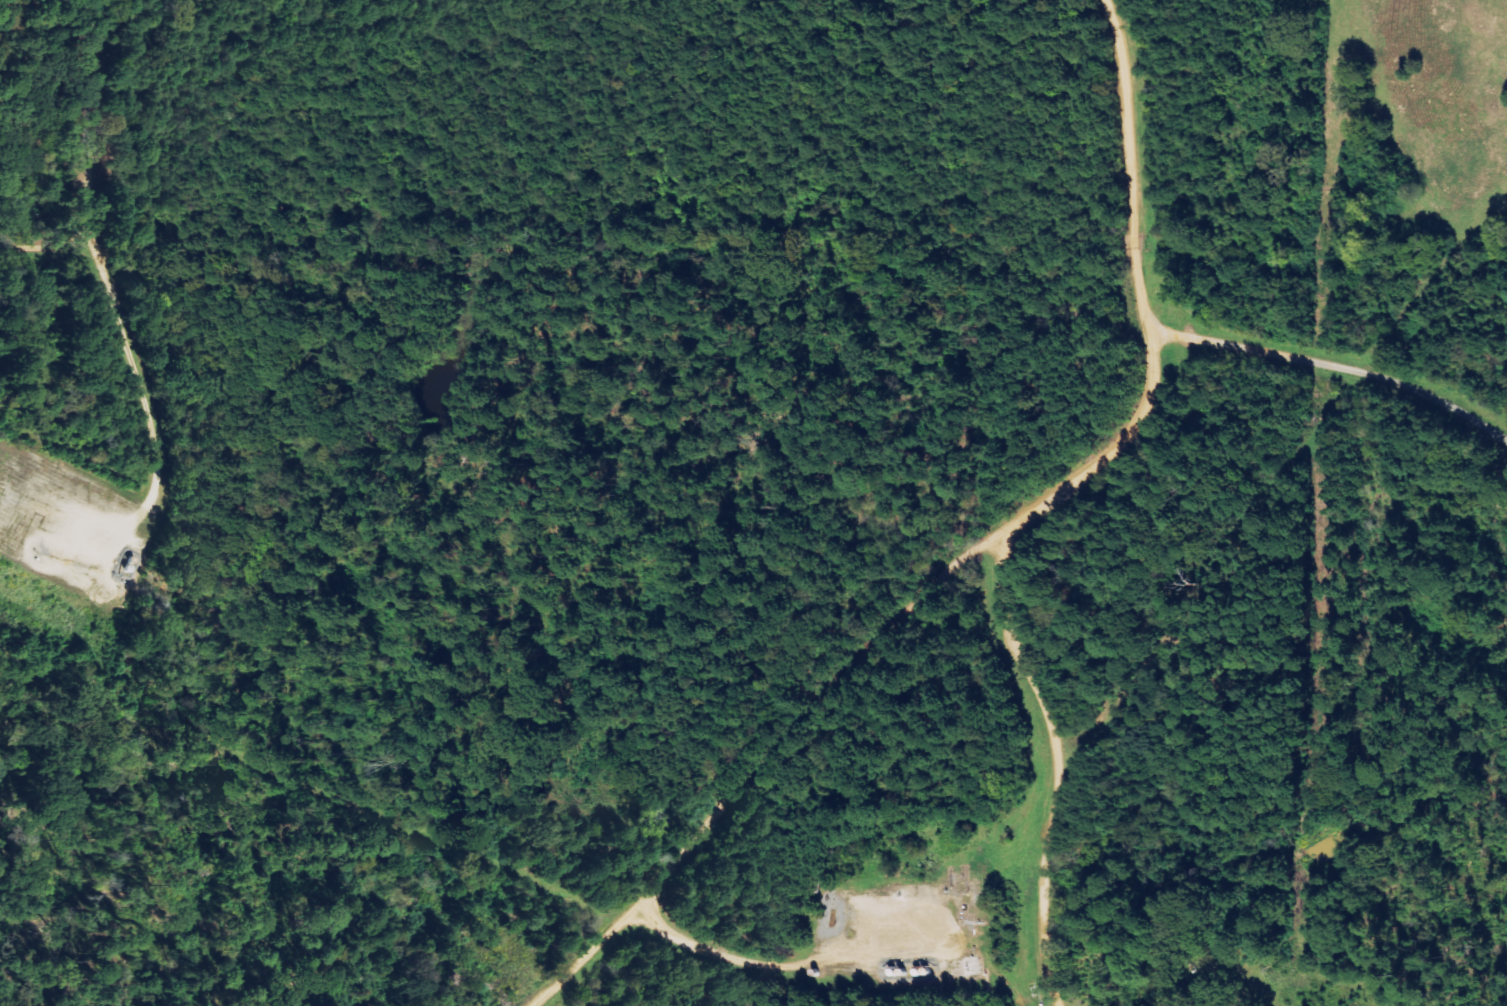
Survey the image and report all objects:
road: (1122, 123)
road: (94, 174)
road: (1331, 364)
road: (872, 631)
road: (1052, 760)
road: (781, 962)

